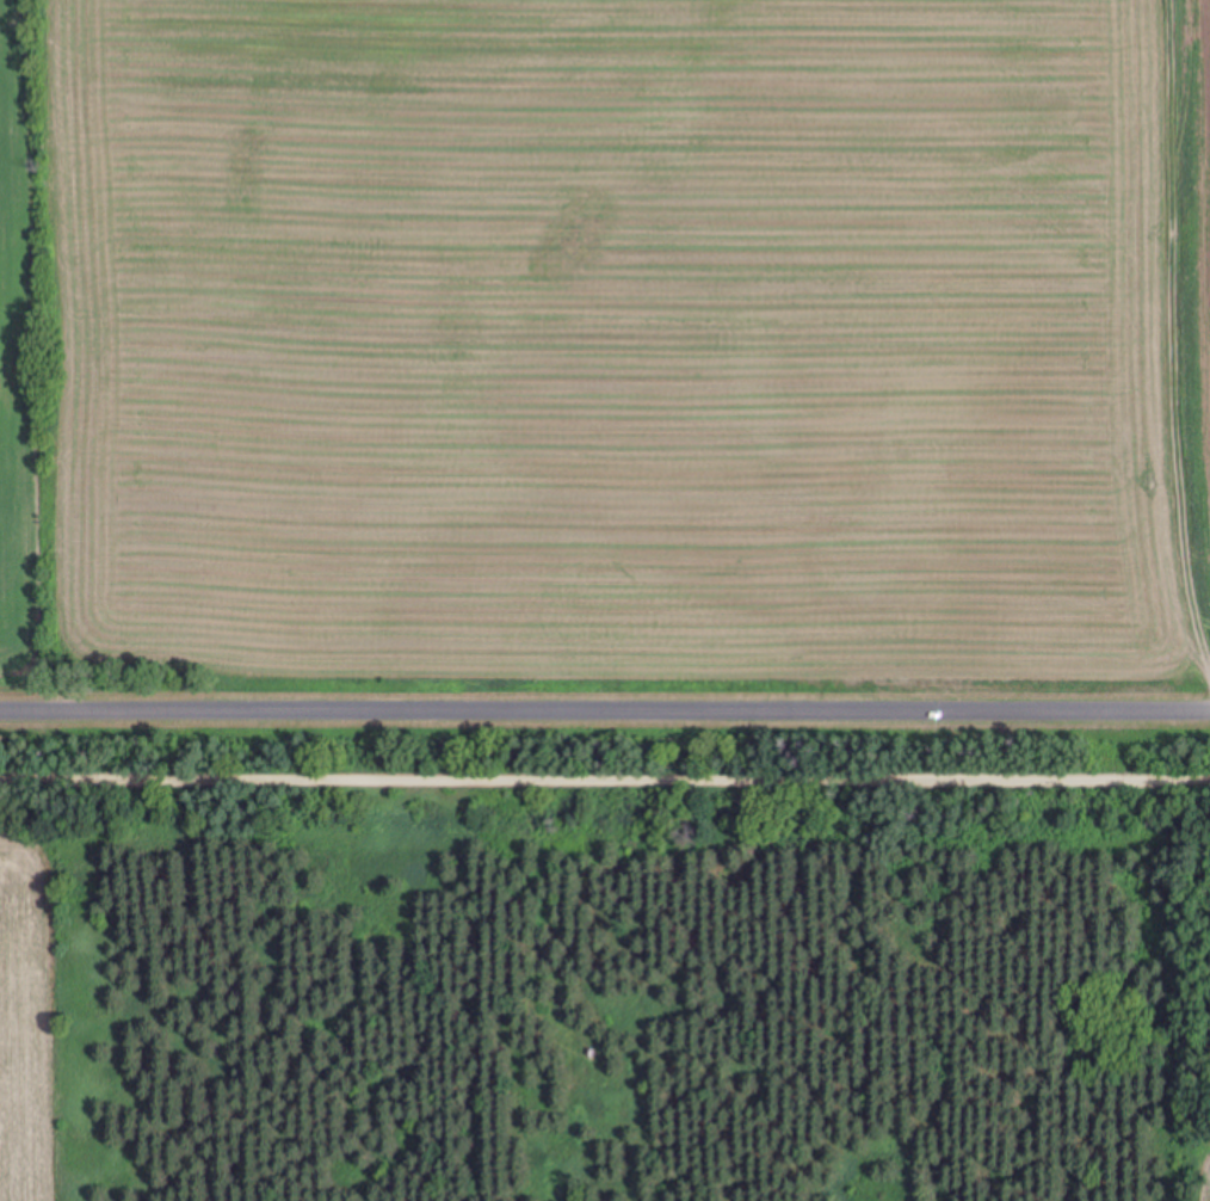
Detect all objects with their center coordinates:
road: (605, 710)
road: (605, 782)

